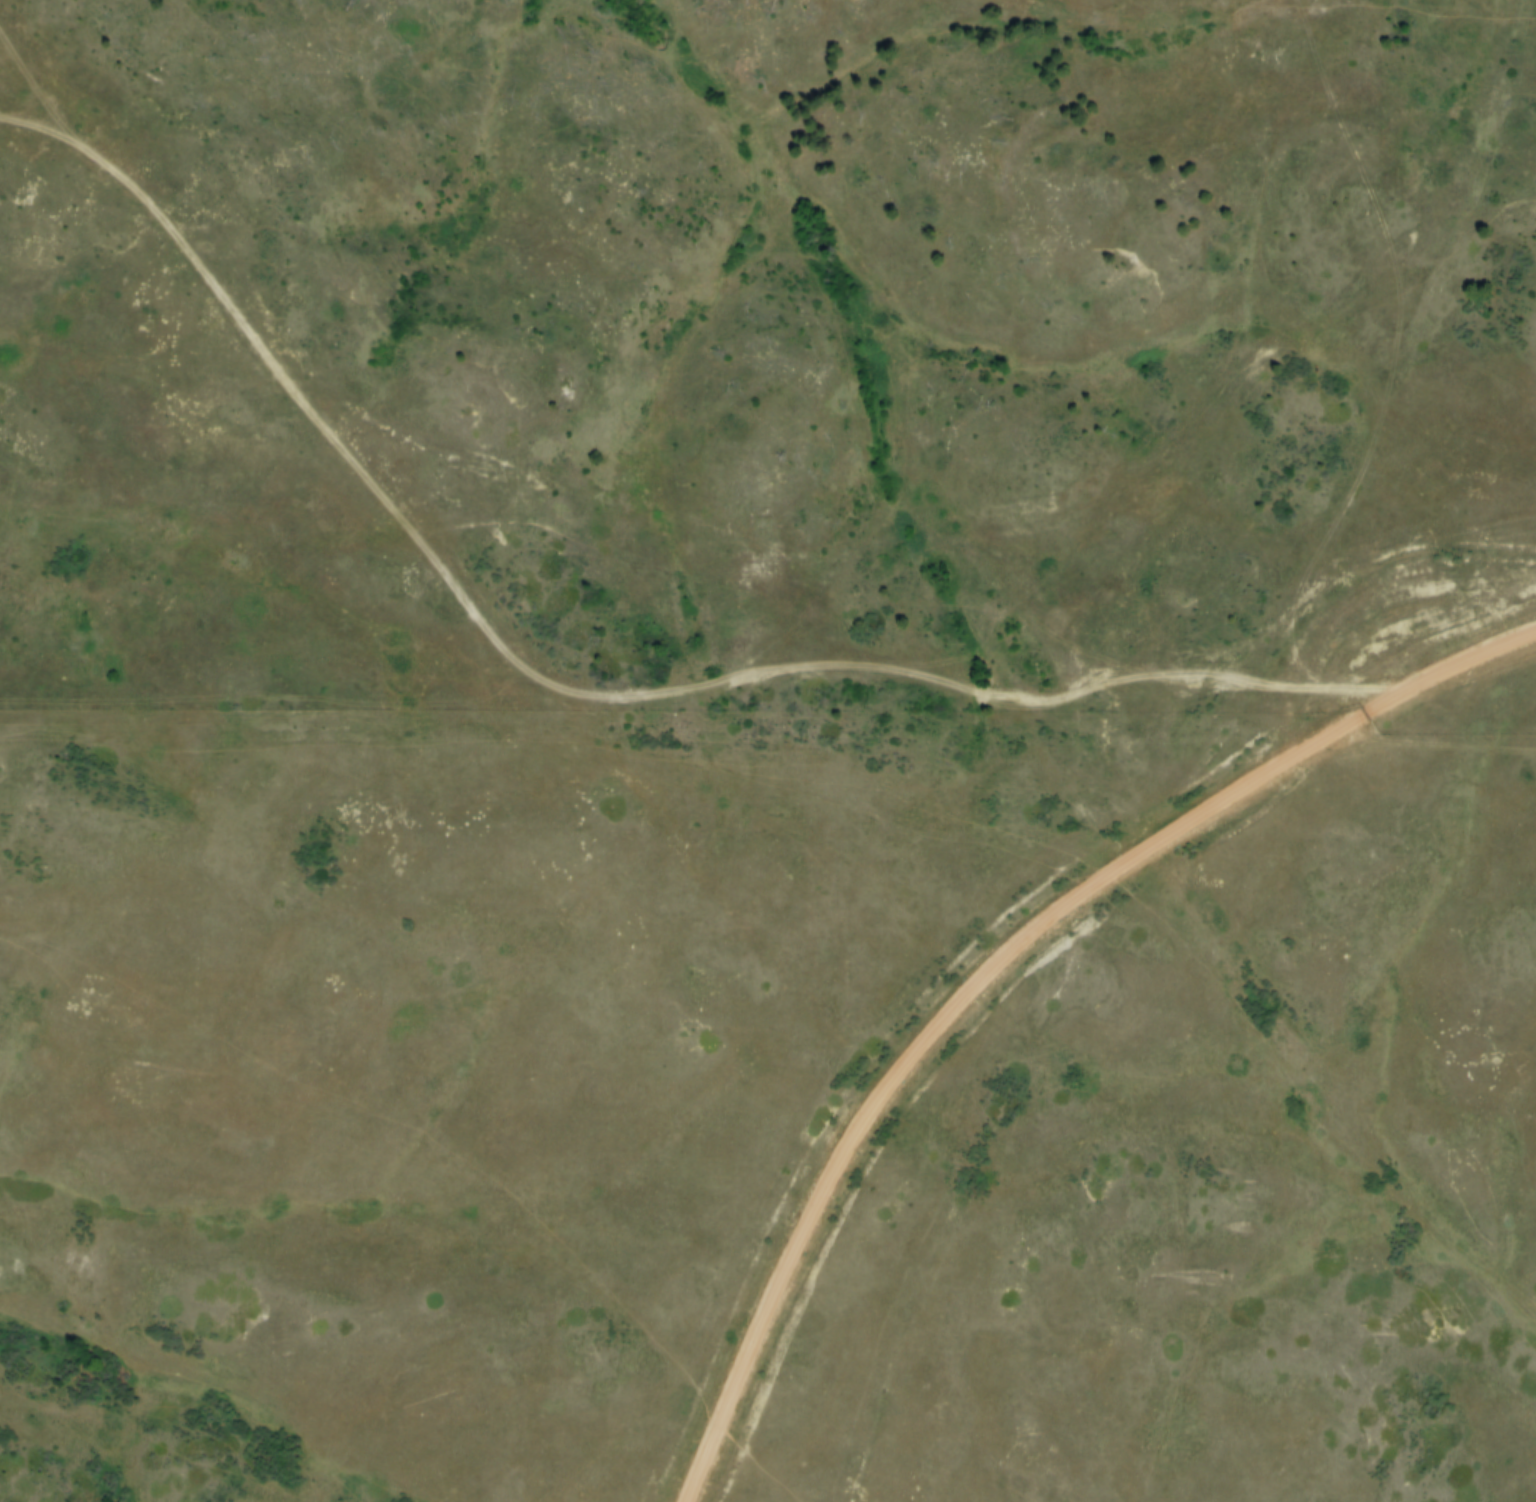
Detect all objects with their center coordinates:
road: (39, 131)
road: (1370, 563)
road: (552, 686)
road: (1435, 742)
road: (1002, 963)

